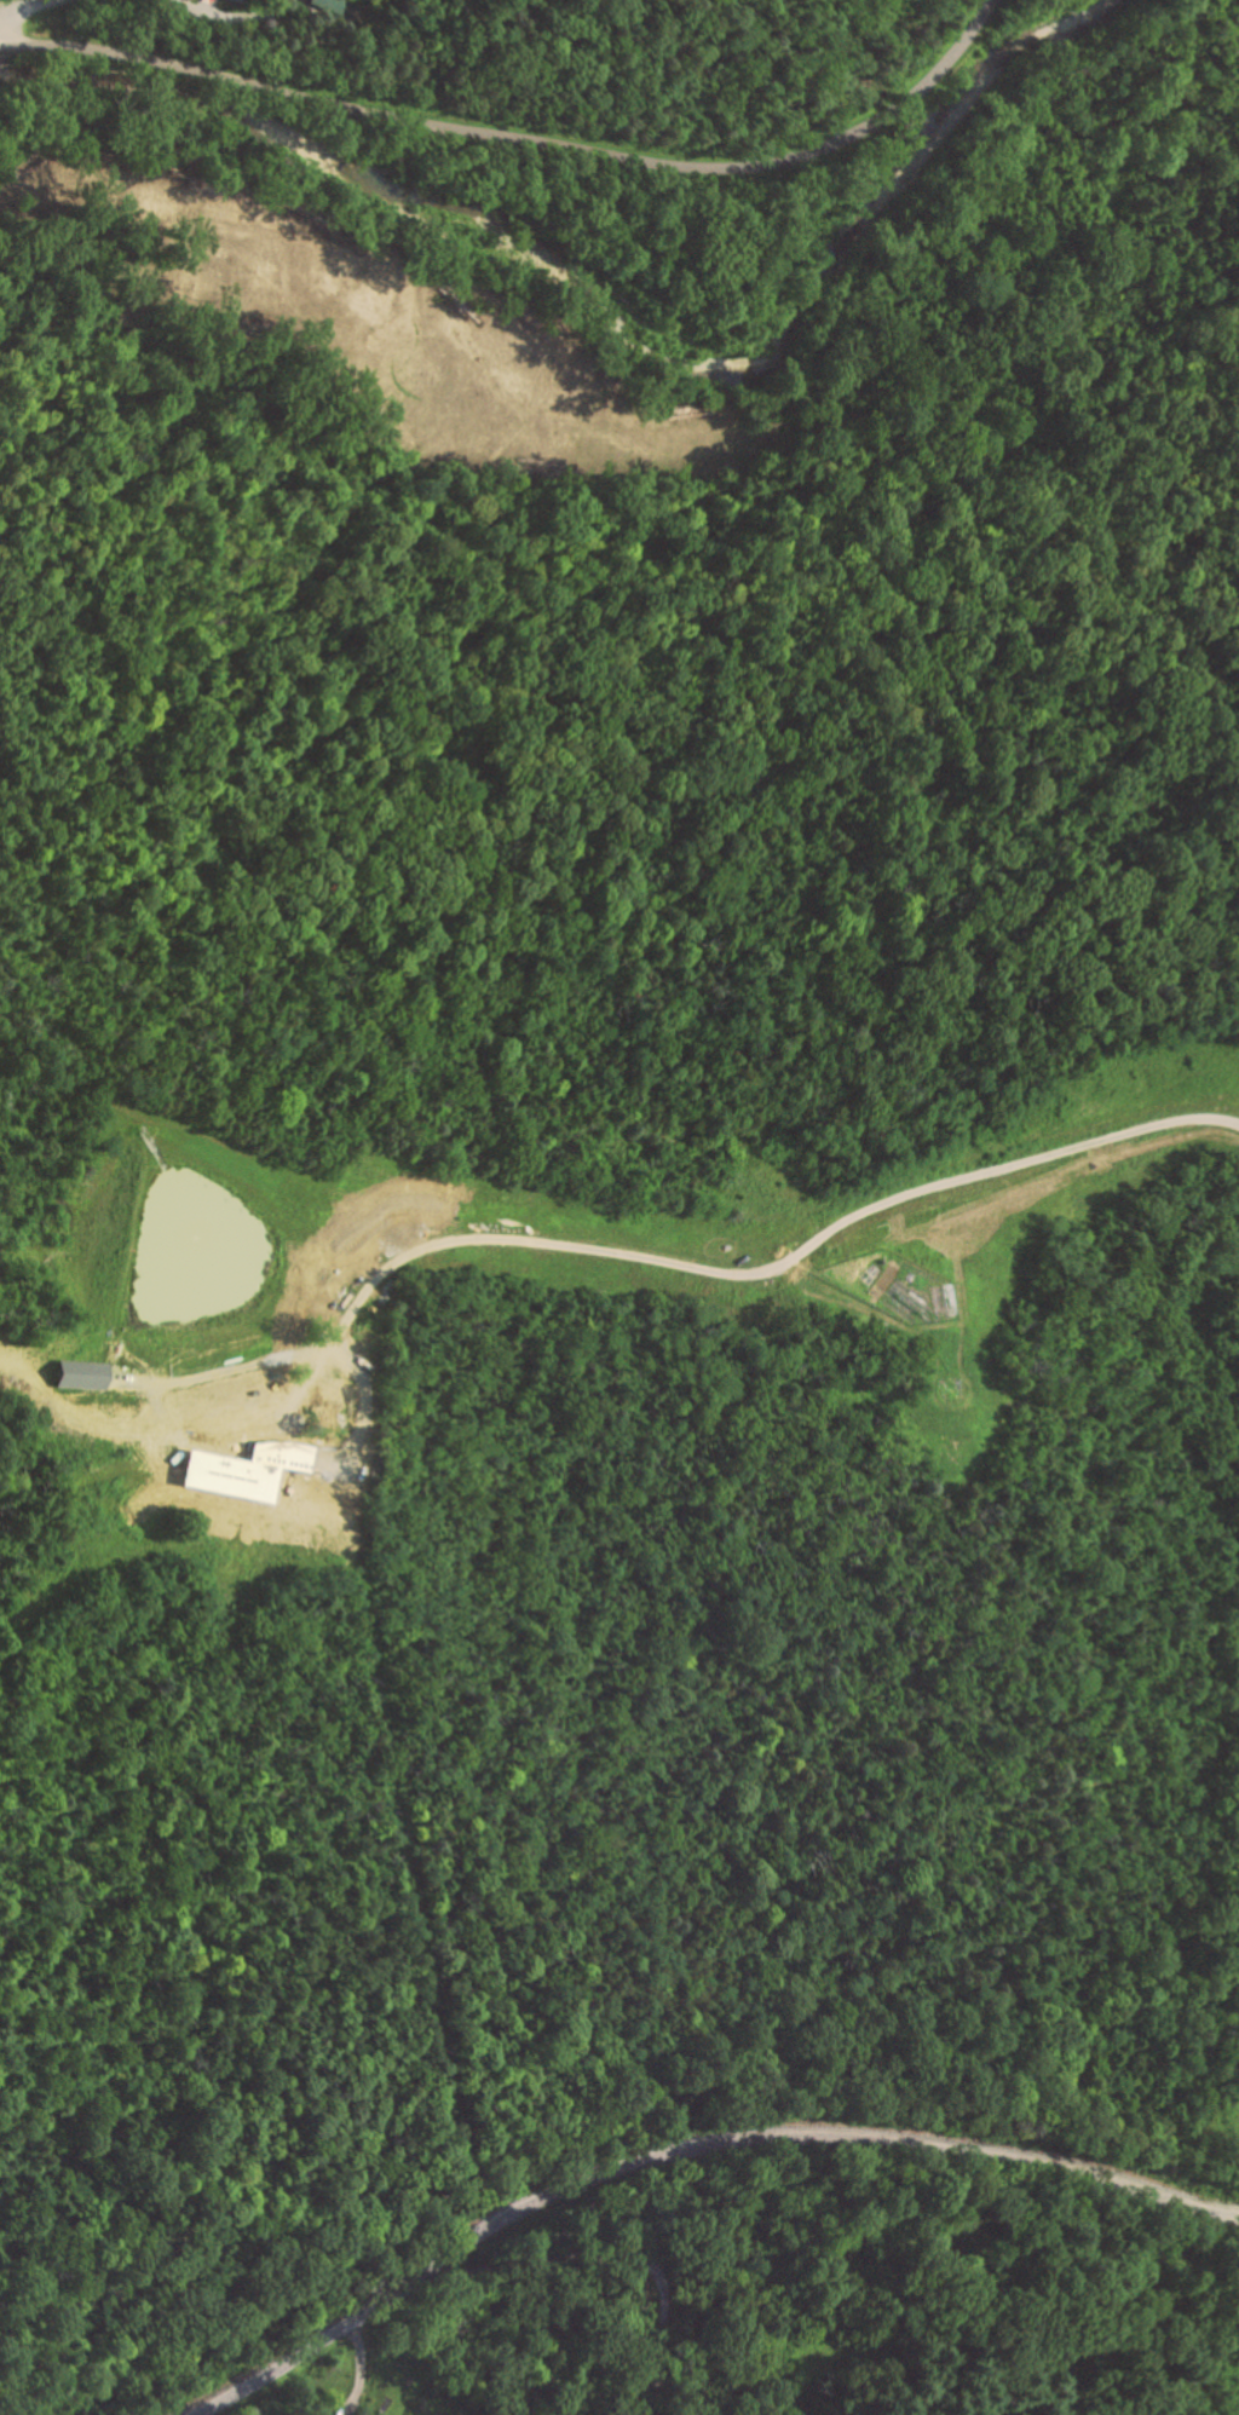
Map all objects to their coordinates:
building: (236, 0)
road: (21, 5)
building: (327, 5)
road: (525, 138)
road: (732, 1264)
building: (79, 1374)
road: (687, 2151)
road: (634, 2269)

